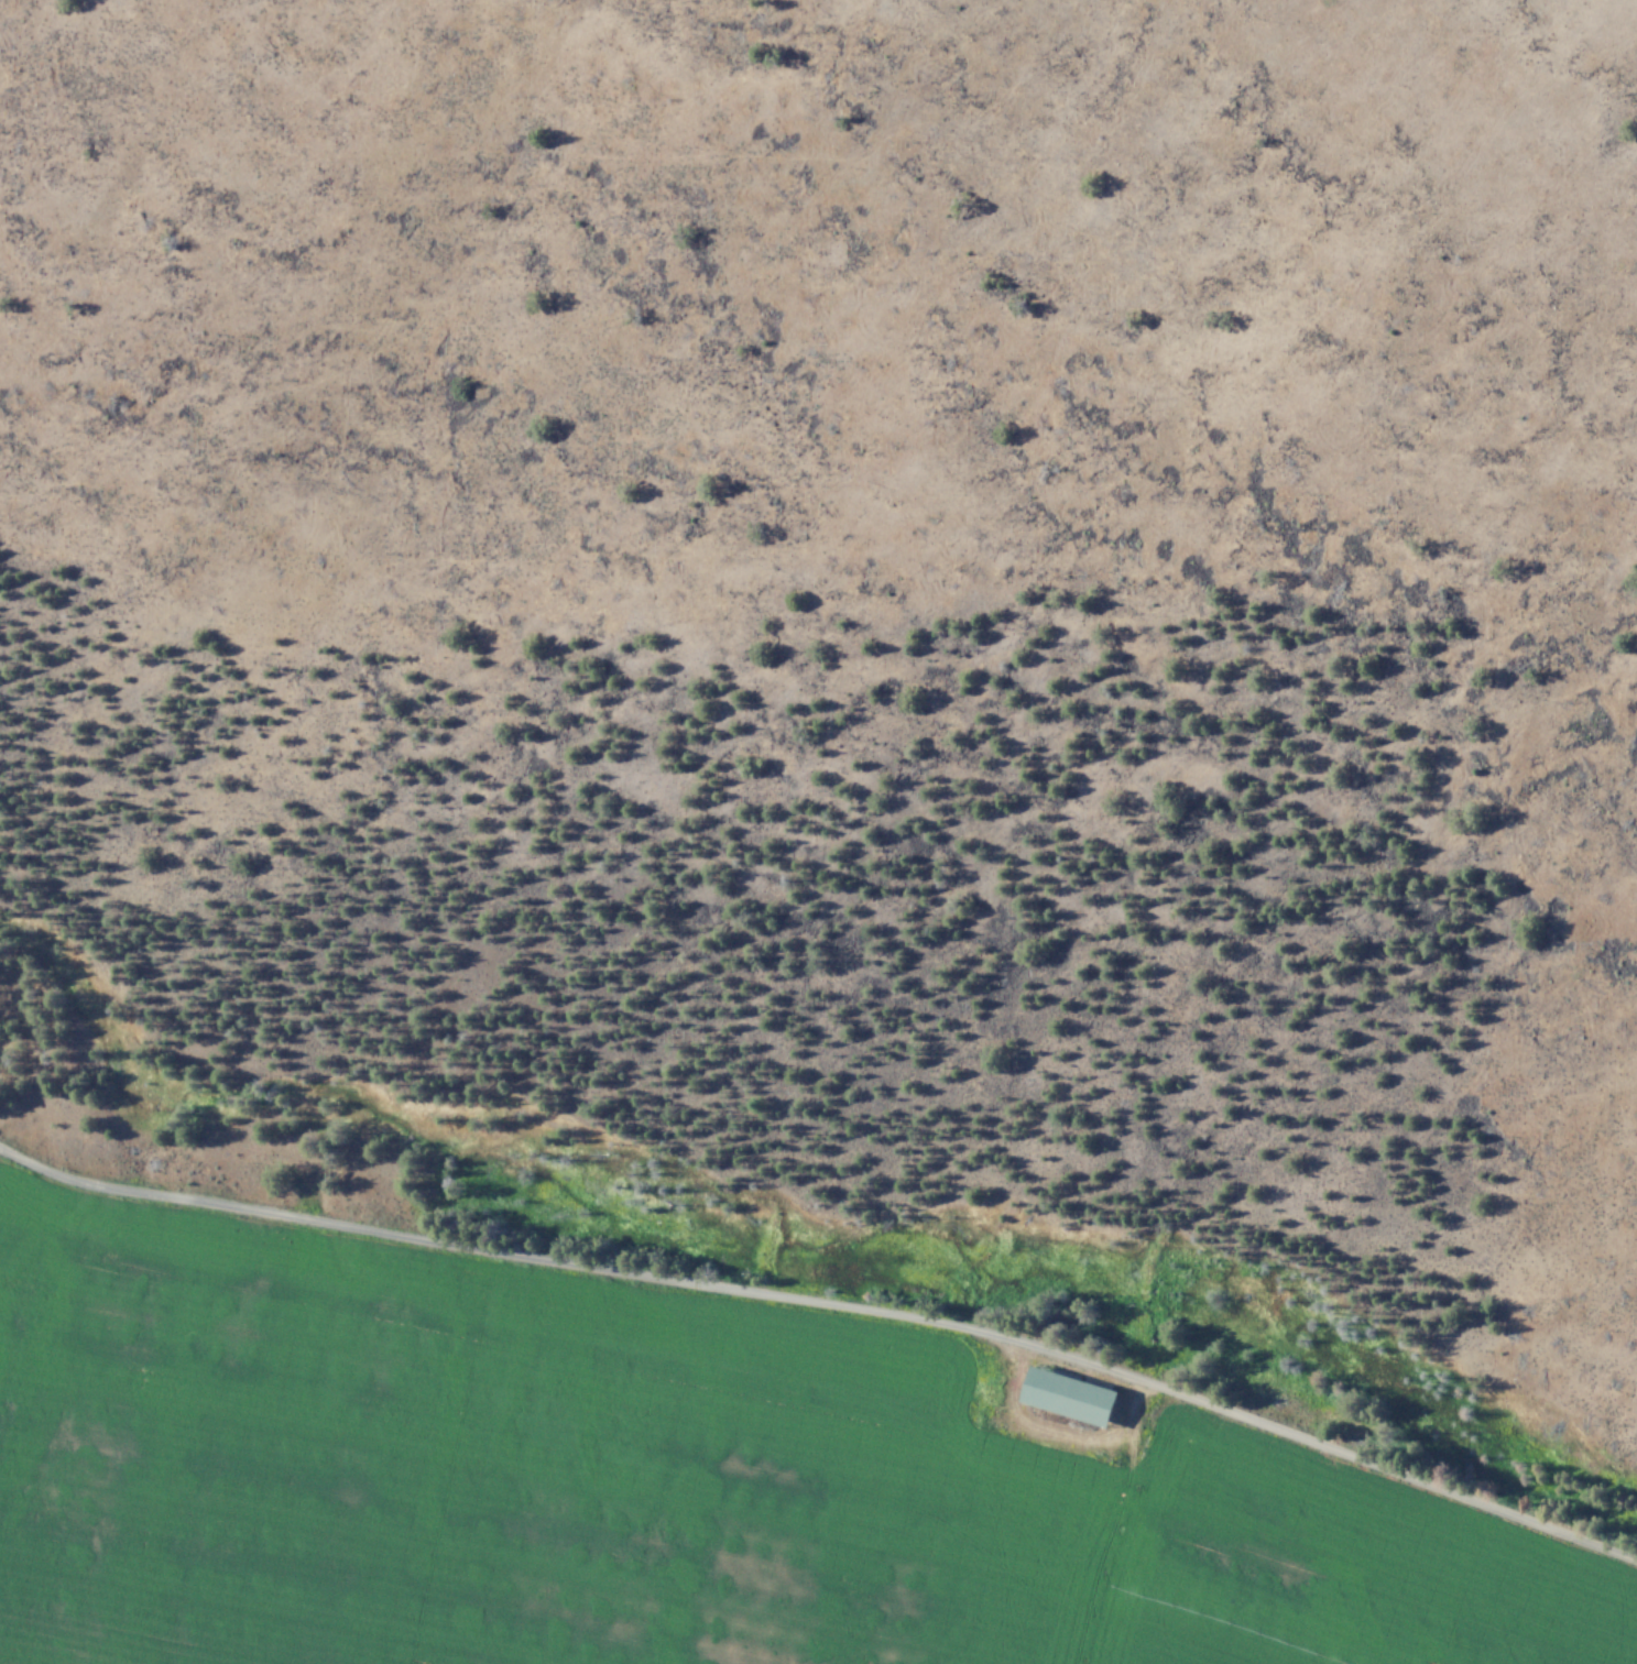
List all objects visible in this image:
road: (829, 1304)
building: (1073, 1399)

